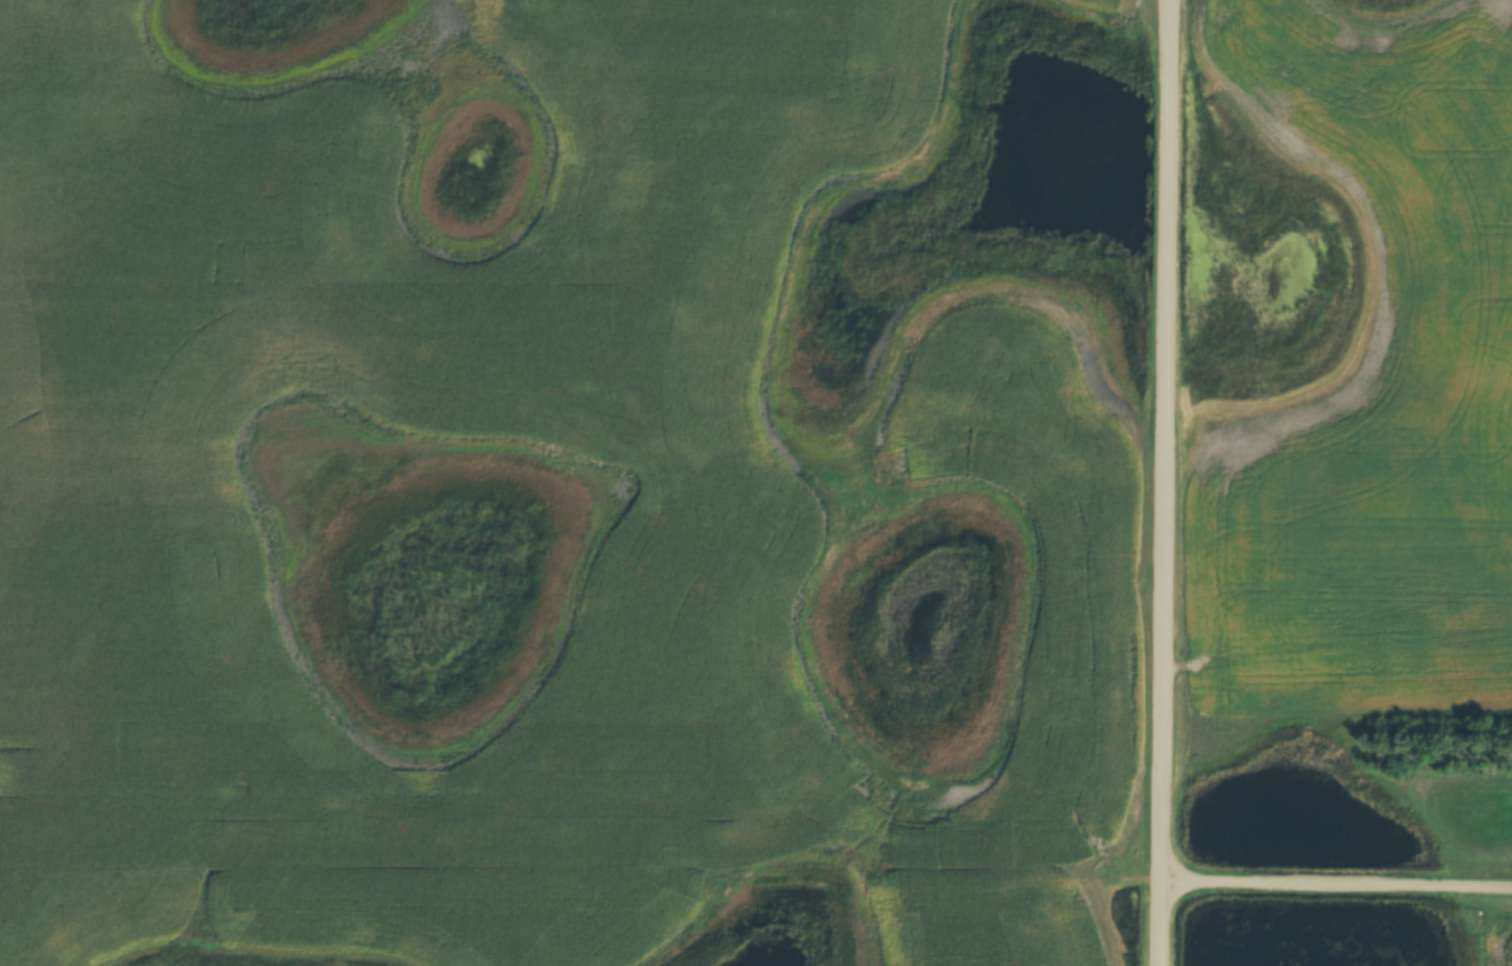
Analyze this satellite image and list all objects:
road: (1172, 482)
road: (1340, 886)

